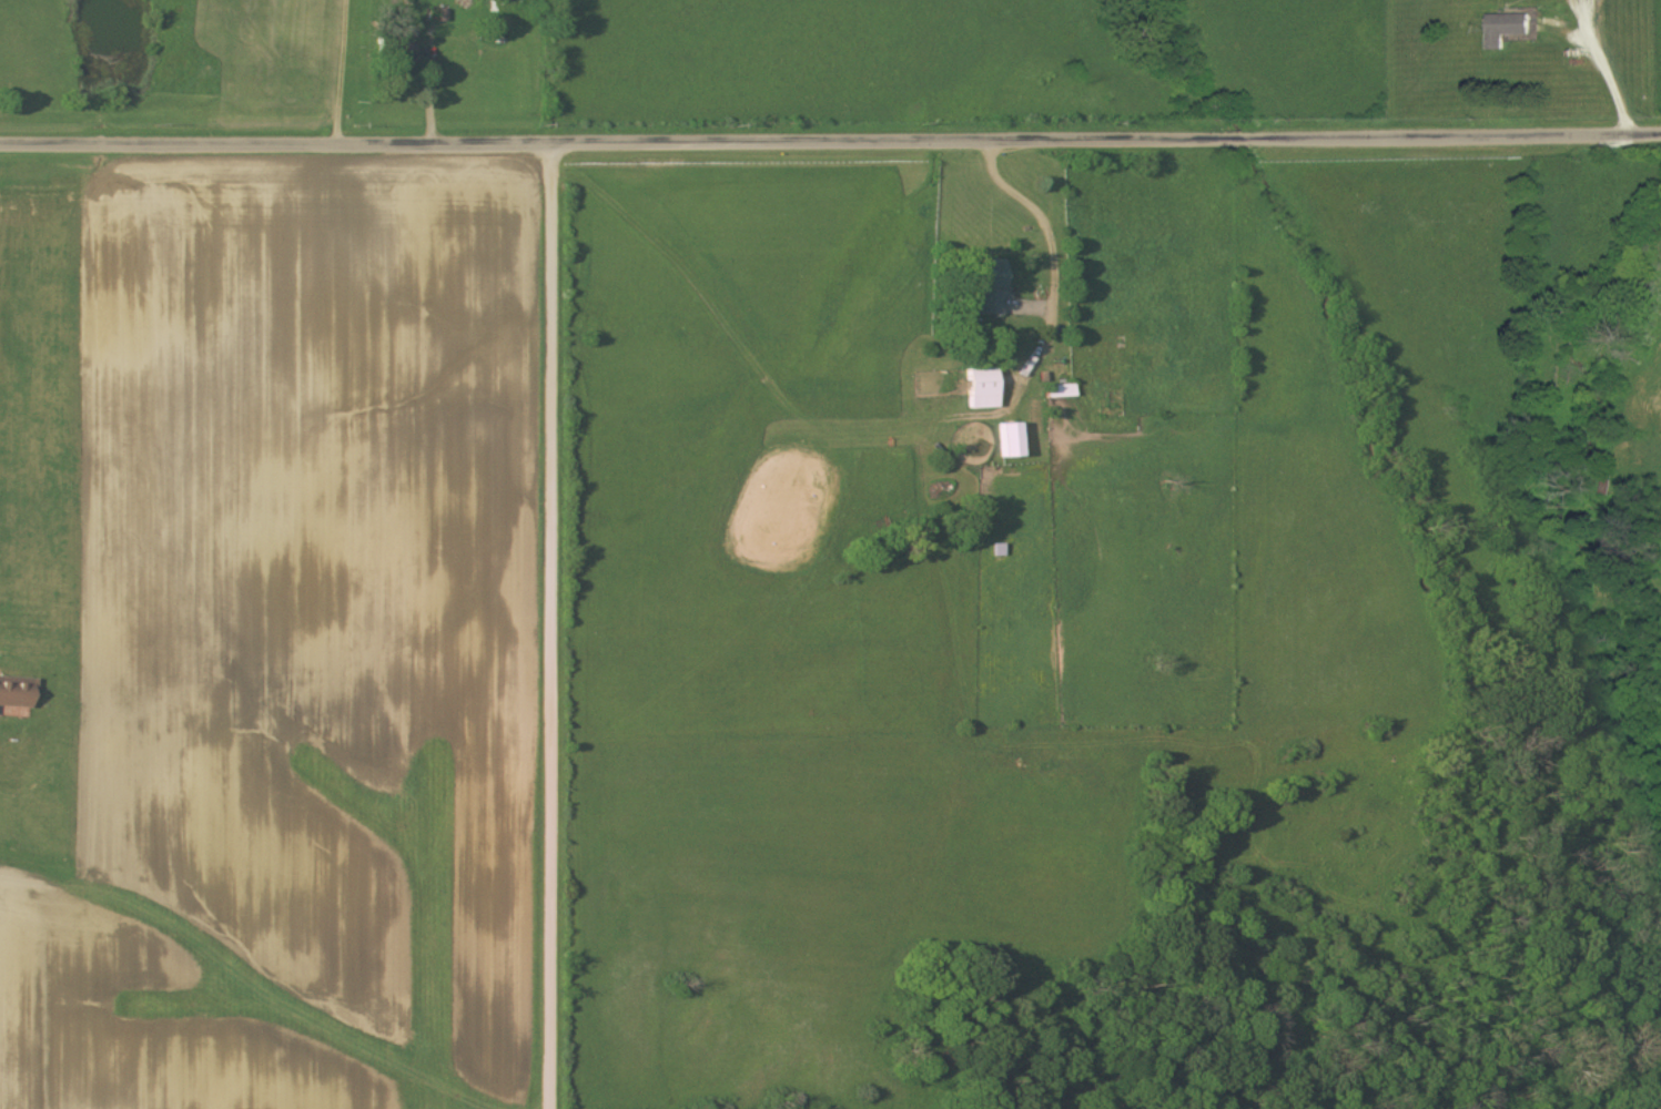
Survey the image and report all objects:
building: (1508, 29)
building: (398, 45)
road: (830, 143)
building: (988, 287)
building: (982, 389)
building: (1009, 441)
road: (545, 627)
building: (16, 693)

